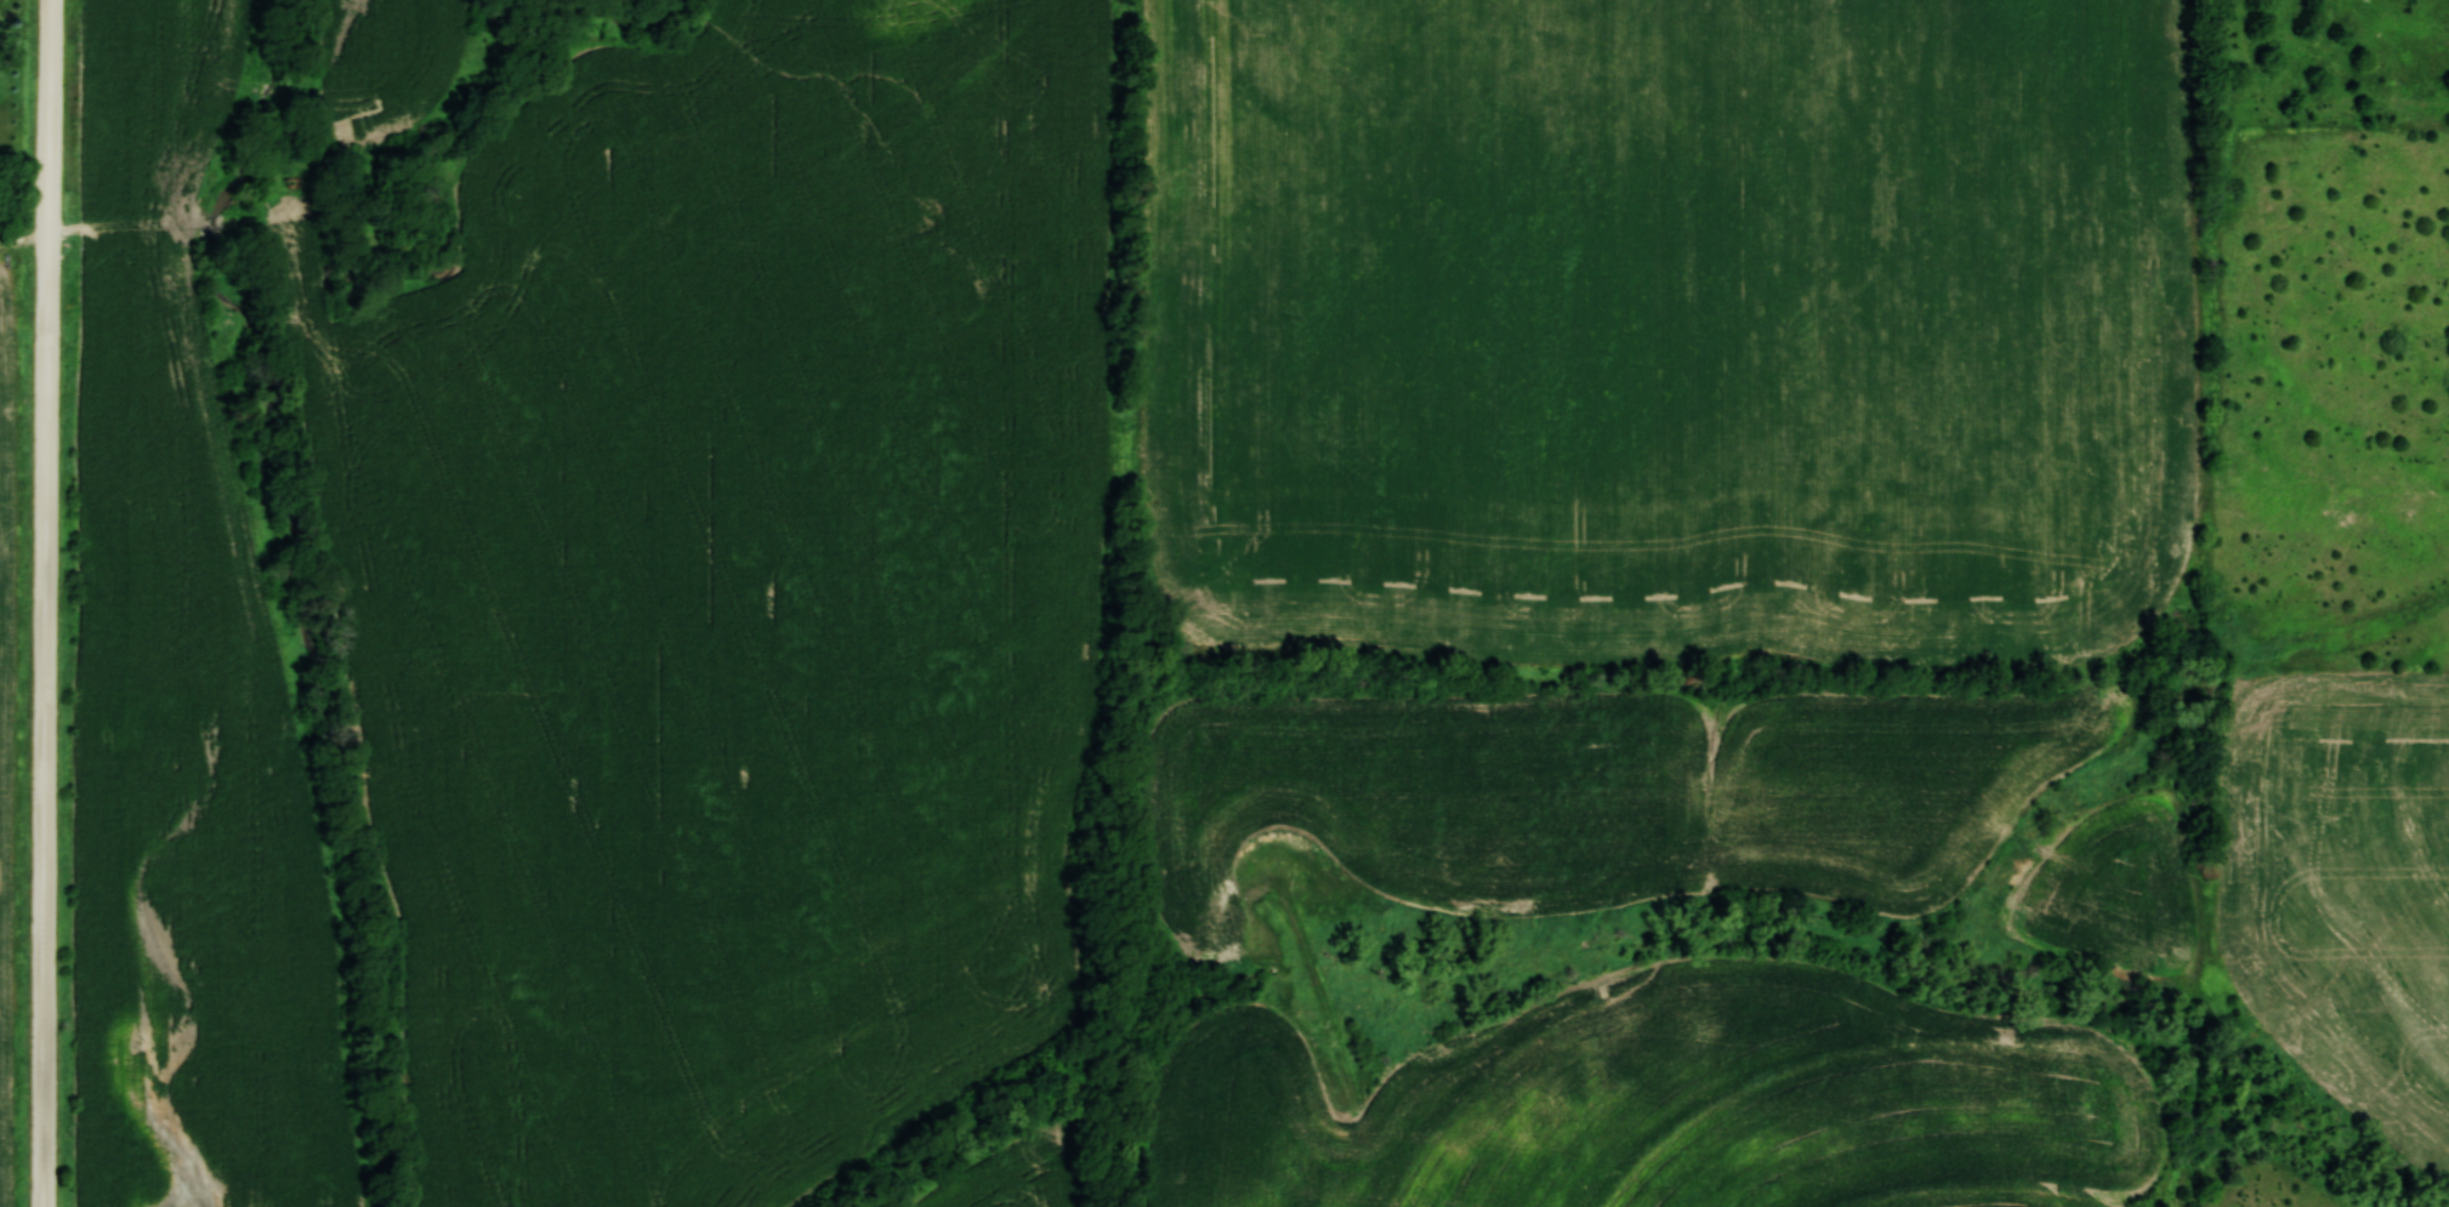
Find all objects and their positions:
road: (46, 603)

